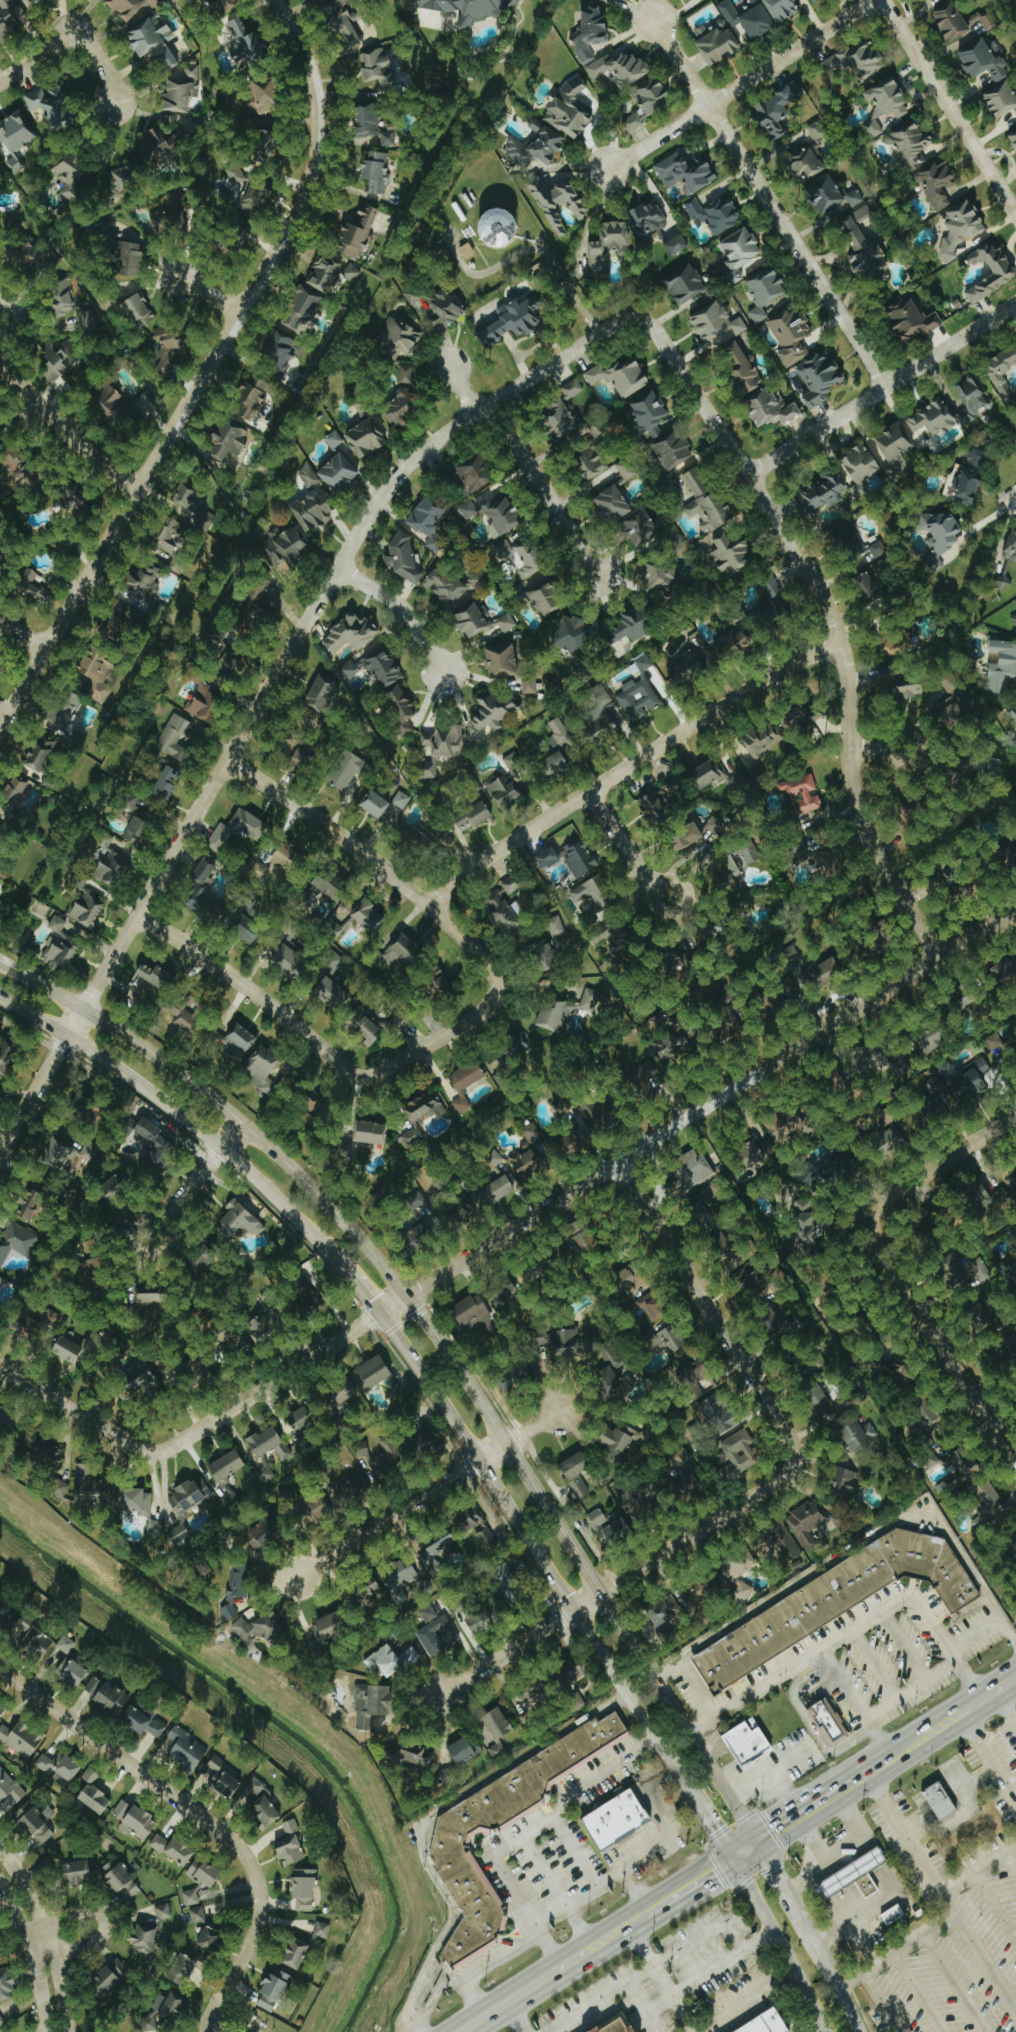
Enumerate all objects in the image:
building: (317, 0)
building: (816, 1)
building: (33, 3)
building: (223, 6)
building: (471, 8)
building: (134, 9)
building: (783, 9)
building: (10, 17)
building: (750, 19)
building: (989, 20)
building: (346, 22)
building: (952, 22)
building: (592, 33)
building: (155, 42)
building: (248, 44)
building: (717, 44)
road: (36, 56)
building: (859, 60)
building: (985, 61)
road: (102, 63)
building: (378, 68)
building: (621, 69)
road: (741, 86)
building: (183, 90)
building: (267, 97)
building: (655, 97)
building: (1002, 99)
building: (886, 105)
building: (52, 106)
road: (948, 107)
building: (571, 110)
building: (779, 110)
building: (368, 120)
road: (587, 130)
building: (818, 130)
building: (17, 139)
building: (390, 139)
building: (1013, 139)
building: (911, 143)
building: (162, 145)
building: (537, 145)
building: (267, 146)
building: (806, 162)
building: (376, 172)
building: (687, 173)
building: (74, 177)
building: (125, 179)
building: (938, 184)
building: (248, 190)
building: (831, 195)
road: (767, 200)
building: (560, 203)
building: (716, 214)
building: (863, 214)
building: (649, 220)
building: (169, 223)
building: (242, 226)
building: (500, 228)
building: (961, 229)
building: (359, 231)
building: (678, 245)
building: (609, 247)
building: (863, 250)
building: (468, 251)
building: (741, 253)
building: (26, 255)
building: (131, 261)
building: (48, 262)
road: (552, 262)
building: (331, 274)
building: (1005, 274)
building: (686, 285)
road: (207, 290)
building: (766, 291)
building: (64, 300)
building: (439, 306)
building: (305, 308)
building: (140, 310)
road: (17, 317)
building: (912, 320)
building: (515, 321)
building: (715, 324)
building: (791, 334)
building: (401, 339)
building: (169, 346)
building: (282, 352)
building: (58, 358)
building: (742, 367)
building: (1002, 370)
road: (205, 372)
building: (407, 373)
building: (622, 376)
building: (820, 378)
road: (459, 386)
building: (573, 389)
road: (881, 389)
building: (253, 396)
building: (972, 398)
building: (126, 403)
building: (403, 408)
building: (773, 409)
building: (651, 414)
building: (934, 418)
building: (564, 420)
road: (64, 430)
building: (0, 436)
building: (367, 438)
building: (335, 439)
building: (228, 441)
building: (895, 443)
building: (675, 450)
building: (593, 462)
building: (862, 467)
building: (627, 468)
building: (25, 469)
building: (340, 472)
building: (477, 472)
building: (309, 476)
building: (969, 478)
road: (543, 491)
building: (823, 494)
building: (75, 498)
road: (1012, 498)
building: (708, 503)
building: (196, 505)
building: (612, 505)
building: (314, 510)
building: (469, 510)
building: (504, 515)
building: (429, 520)
road: (971, 525)
building: (641, 527)
building: (941, 535)
building: (173, 536)
building: (848, 536)
building: (287, 546)
building: (1011, 546)
building: (504, 548)
building: (879, 548)
building: (732, 554)
building: (531, 556)
building: (405, 558)
building: (178, 564)
building: (662, 577)
building: (477, 581)
building: (1003, 581)
building: (143, 584)
building: (445, 585)
building: (34, 587)
building: (870, 587)
building: (773, 593)
building: (548, 599)
building: (258, 604)
road: (401, 609)
building: (472, 619)
road: (832, 620)
building: (1014, 621)
building: (508, 622)
building: (116, 623)
building: (631, 625)
building: (351, 634)
building: (574, 634)
road: (22, 635)
building: (734, 644)
building: (900, 645)
building: (885, 648)
building: (230, 661)
building: (503, 661)
building: (687, 666)
building: (1002, 666)
building: (1, 669)
building: (99, 674)
building: (531, 684)
building: (387, 685)
building: (909, 686)
road: (268, 687)
building: (639, 692)
building: (321, 693)
building: (206, 702)
building: (67, 708)
building: (958, 709)
building: (495, 712)
building: (1013, 715)
building: (802, 717)
building: (603, 723)
building: (559, 732)
building: (175, 738)
building: (763, 740)
building: (441, 743)
road: (876, 749)
building: (41, 753)
building: (309, 754)
building: (514, 762)
building: (556, 763)
building: (430, 767)
road: (629, 767)
building: (350, 769)
building: (708, 774)
building: (735, 781)
building: (167, 784)
building: (505, 791)
building: (679, 791)
building: (803, 792)
building: (15, 794)
building: (133, 802)
building: (386, 806)
building: (659, 814)
building: (474, 816)
building: (139, 827)
building: (238, 830)
building: (2, 834)
building: (700, 836)
building: (424, 839)
building: (105, 840)
road: (621, 840)
building: (800, 851)
building: (751, 853)
building: (546, 858)
road: (371, 859)
building: (582, 859)
building: (281, 861)
building: (830, 862)
building: (113, 868)
building: (5, 870)
building: (729, 872)
building: (513, 883)
building: (332, 885)
road: (653, 887)
building: (965, 889)
building: (203, 891)
building: (593, 896)
building: (88, 910)
building: (505, 912)
building: (369, 916)
building: (252, 924)
building: (557, 926)
building: (769, 926)
building: (720, 927)
building: (988, 930)
building: (887, 932)
building: (615, 935)
building: (61, 947)
building: (866, 949)
building: (791, 952)
building: (405, 953)
building: (545, 955)
building: (291, 961)
building: (336, 962)
building: (674, 962)
building: (1006, 971)
building: (823, 973)
building: (157, 976)
building: (443, 986)
road: (252, 992)
building: (333, 993)
building: (968, 996)
building: (773, 1006)
building: (565, 1009)
building: (189, 1013)
building: (396, 1022)
building: (368, 1028)
building: (735, 1030)
road: (436, 1038)
building: (676, 1038)
building: (934, 1039)
building: (240, 1041)
building: (1002, 1044)
building: (518, 1045)
building: (6, 1057)
building: (866, 1061)
building: (263, 1070)
building: (960, 1079)
building: (646, 1082)
building: (467, 1083)
building: (850, 1088)
building: (84, 1106)
building: (426, 1107)
building: (562, 1107)
road: (178, 1114)
building: (602, 1114)
building: (922, 1120)
building: (532, 1131)
building: (371, 1133)
building: (411, 1138)
building: (890, 1140)
building: (156, 1145)
building: (758, 1151)
building: (68, 1154)
building: (494, 1159)
building: (526, 1160)
road: (937, 1166)
building: (839, 1167)
building: (692, 1173)
building: (810, 1173)
road: (195, 1178)
road: (587, 1180)
building: (113, 1187)
building: (498, 1190)
building: (988, 1200)
building: (417, 1201)
building: (31, 1204)
building: (461, 1210)
building: (933, 1212)
building: (704, 1215)
building: (240, 1221)
building: (807, 1222)
building: (581, 1226)
building: (424, 1236)
building: (17, 1242)
building: (588, 1242)
building: (725, 1248)
building: (202, 1258)
building: (549, 1266)
building: (98, 1267)
building: (1009, 1271)
building: (971, 1272)
building: (627, 1278)
building: (750, 1282)
building: (0, 1283)
road: (356, 1287)
building: (154, 1294)
building: (310, 1300)
road: (705, 1305)
building: (652, 1308)
building: (984, 1313)
building: (476, 1317)
building: (37, 1320)
building: (267, 1322)
building: (785, 1326)
road: (437, 1339)
building: (666, 1340)
building: (91, 1341)
road: (946, 1342)
building: (566, 1344)
building: (69, 1350)
building: (612, 1355)
building: (799, 1364)
building: (191, 1369)
building: (376, 1371)
building: (693, 1372)
building: (905, 1372)
building: (514, 1378)
building: (147, 1380)
building: (612, 1384)
building: (341, 1394)
building: (822, 1401)
road: (78, 1412)
building: (720, 1414)
building: (301, 1420)
building: (7, 1422)
building: (926, 1425)
building: (859, 1434)
building: (621, 1440)
building: (270, 1444)
building: (421, 1446)
building: (741, 1451)
building: (49, 1454)
building: (683, 1456)
building: (388, 1458)
building: (228, 1466)
building: (960, 1470)
building: (577, 1473)
building: (265, 1474)
building: (846, 1482)
building: (686, 1484)
building: (92, 1486)
building: (358, 1486)
building: (60, 1487)
road: (427, 1493)
building: (191, 1496)
building: (230, 1500)
building: (641, 1501)
building: (136, 1502)
building: (990, 1506)
building: (315, 1510)
building: (807, 1523)
building: (476, 1526)
building: (610, 1527)
building: (156, 1528)
building: (179, 1534)
building: (265, 1534)
building: (784, 1545)
building: (438, 1552)
road: (536, 1552)
road: (843, 1554)
building: (742, 1566)
road: (624, 1578)
building: (403, 1581)
building: (238, 1587)
building: (511, 1587)
building: (706, 1590)
building: (743, 1592)
building: (362, 1596)
building: (837, 1601)
building: (5, 1606)
building: (664, 1611)
building: (429, 1614)
road: (861, 1620)
road: (986, 1620)
building: (25, 1624)
building: (330, 1626)
building: (261, 1629)
building: (438, 1635)
building: (38, 1641)
building: (66, 1644)
building: (391, 1661)
building: (73, 1671)
building: (578, 1672)
road: (696, 1687)
road: (752, 1688)
road: (908, 1690)
building: (536, 1691)
building: (107, 1694)
road: (988, 1695)
building: (373, 1703)
road: (1007, 1703)
building: (3, 1708)
building: (528, 1716)
building: (143, 1722)
building: (830, 1722)
building: (498, 1729)
road: (925, 1736)
building: (22, 1738)
building: (748, 1742)
building: (187, 1749)
building: (465, 1749)
road: (984, 1749)
building: (411, 1751)
building: (60, 1766)
road: (876, 1766)
road: (600, 1772)
road: (770, 1774)
road: (854, 1774)
building: (222, 1776)
building: (256, 1786)
building: (9, 1787)
road: (1009, 1787)
building: (95, 1792)
road: (776, 1794)
building: (941, 1800)
road: (798, 1803)
building: (267, 1810)
road: (817, 1816)
building: (136, 1818)
road: (200, 1818)
building: (618, 1818)
traffic signals: (771, 1821)
building: (36, 1822)
building: (291, 1826)
road: (714, 1830)
traffic signals: (714, 1830)
road: (902, 1834)
road: (668, 1835)
road: (859, 1837)
building: (450, 1840)
road: (739, 1841)
building: (160, 1842)
road: (757, 1842)
road: (505, 1845)
building: (291, 1850)
building: (181, 1851)
road: (750, 1859)
traffic signals: (776, 1869)
building: (78, 1872)
building: (206, 1872)
building: (856, 1875)
building: (122, 1879)
road: (809, 1879)
traffic signals: (718, 1880)
road: (594, 1882)
road: (673, 1882)
road: (888, 1882)
building: (305, 1890)
road: (843, 1892)
road: (694, 1894)
road: (792, 1896)
building: (191, 1897)
building: (164, 1910)
building: (198, 1915)
road: (941, 1920)
road: (103, 1922)
road: (640, 1922)
road: (580, 1923)
road: (626, 1924)
building: (322, 1930)
road: (610, 1934)
building: (0, 1936)
road: (46, 1936)
road: (700, 1936)
building: (145, 1939)
building: (212, 1939)
road: (547, 1944)
road: (782, 1948)
building: (298, 1953)
road: (577, 1956)
road: (31, 1957)
road: (647, 1959)
road: (984, 1961)
road: (486, 1968)
building: (189, 1969)
road: (708, 1970)
building: (113, 1976)
building: (7, 1983)
road: (837, 1988)
building: (274, 1989)
road: (425, 1995)
road: (509, 1999)
road: (883, 2000)
road: (746, 2002)
road: (642, 2008)
building: (166, 2009)
road: (590, 2009)
road: (515, 2017)
building: (1, 2021)
building: (768, 2023)
building: (617, 2025)
road: (822, 2031)

